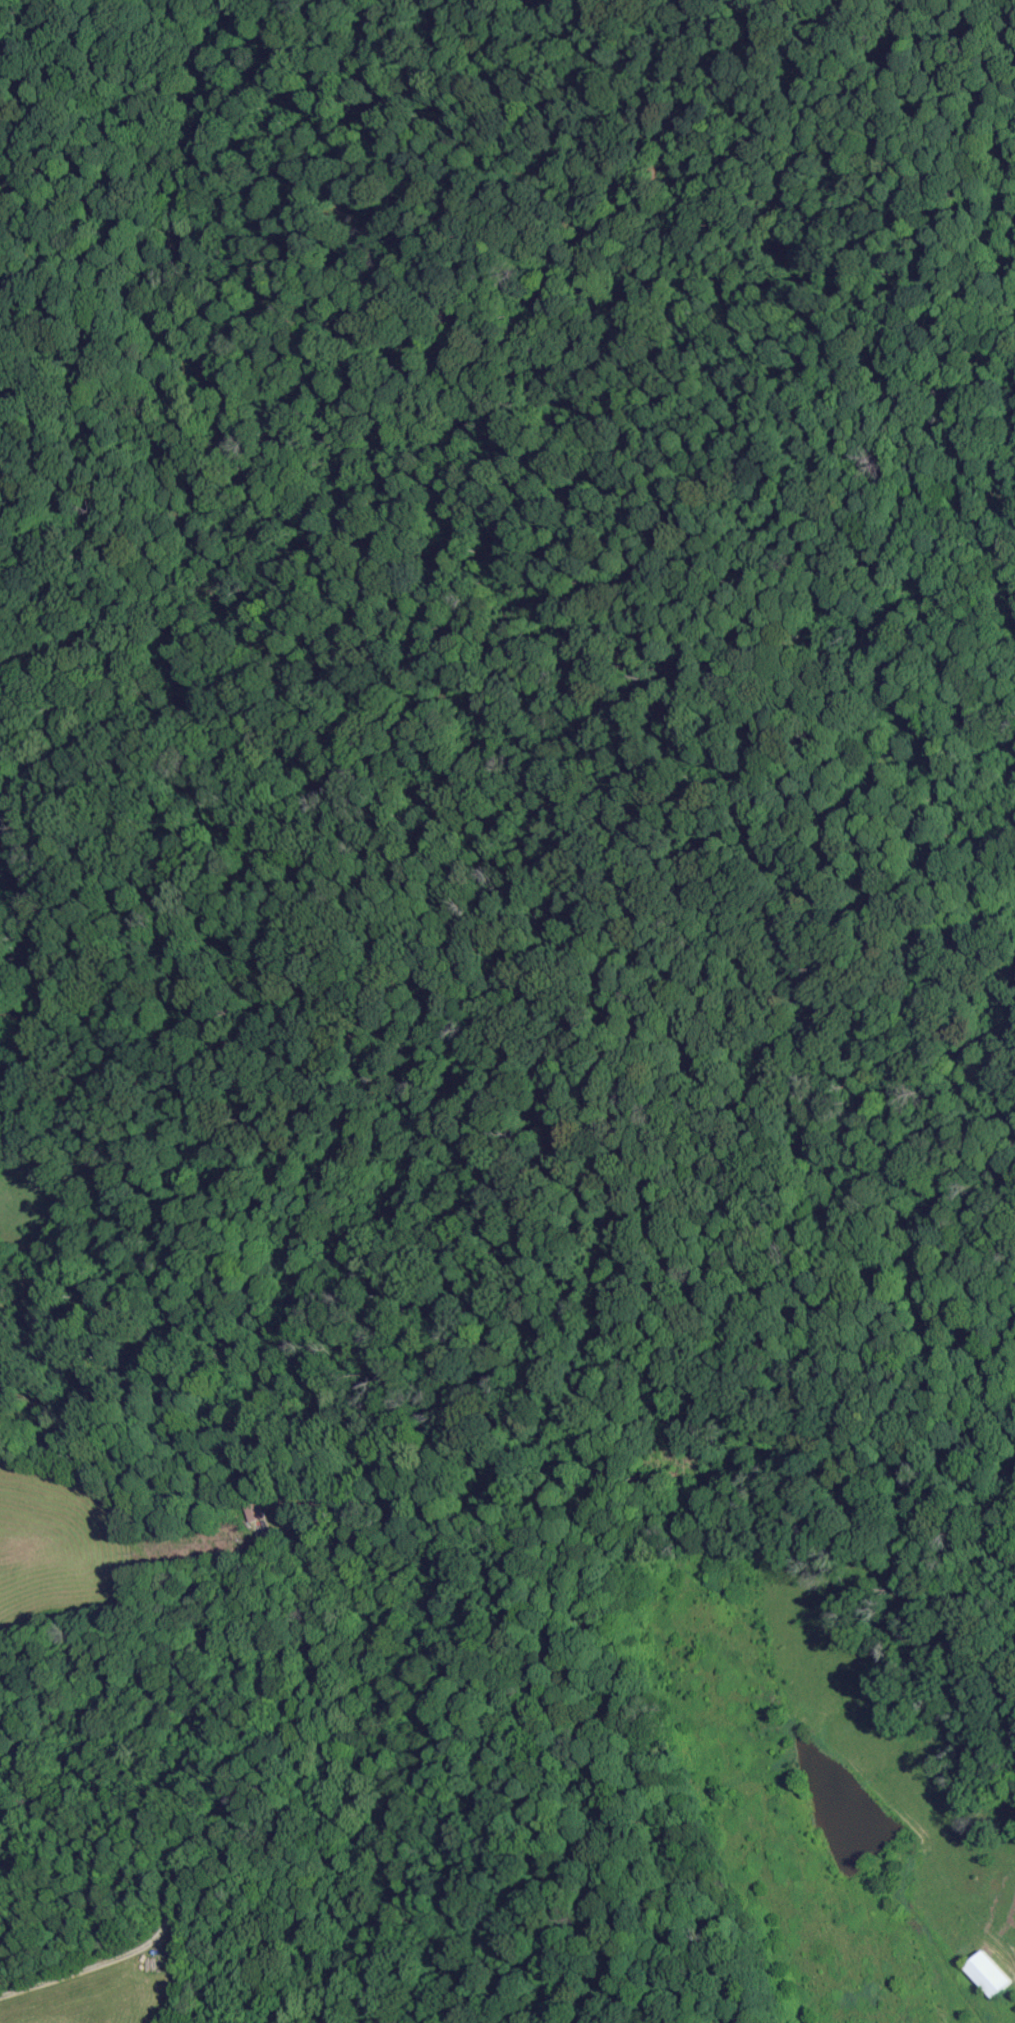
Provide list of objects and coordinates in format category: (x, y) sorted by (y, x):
building: (251, 1508)
road: (102, 1963)
building: (985, 1973)

